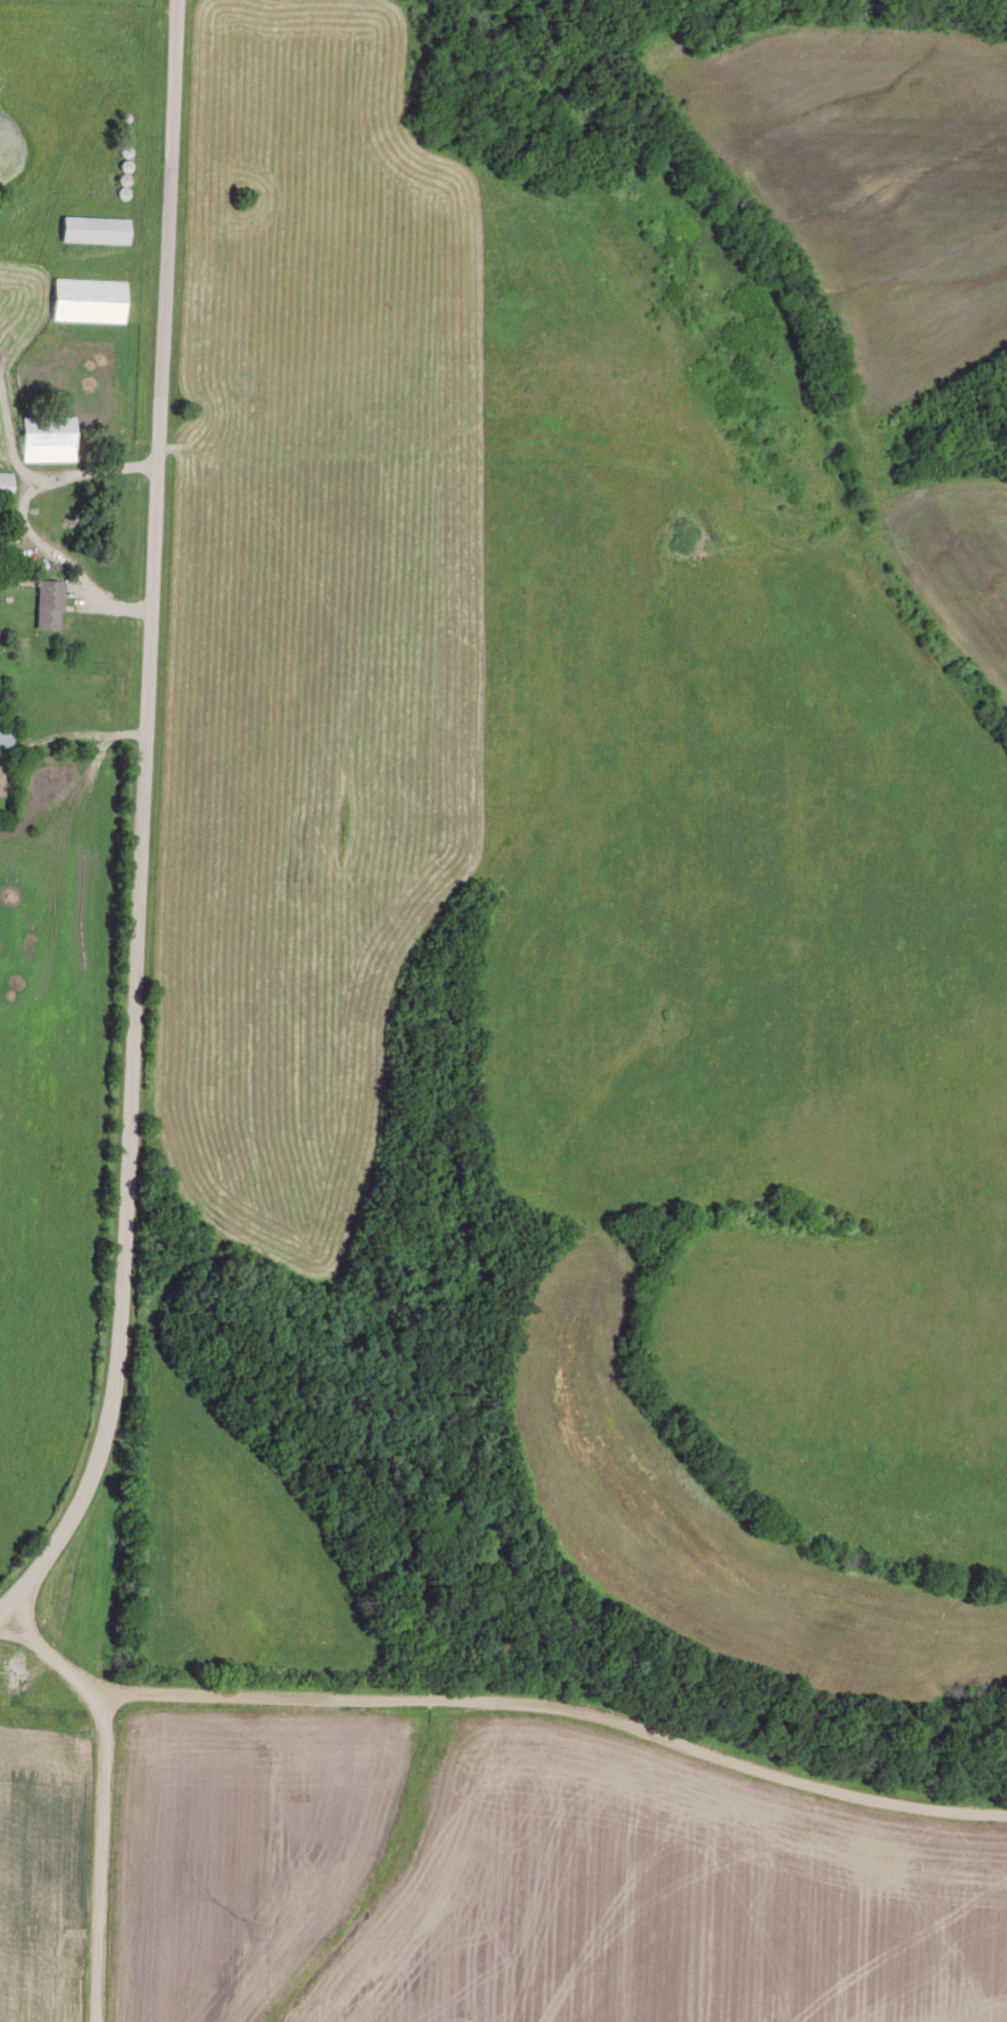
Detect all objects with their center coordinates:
building: (92, 232)
building: (87, 302)
building: (46, 441)
building: (5, 488)
road: (26, 524)
building: (48, 607)
building: (4, 737)
road: (81, 739)
road: (148, 828)
road: (565, 1708)
road: (108, 1793)

